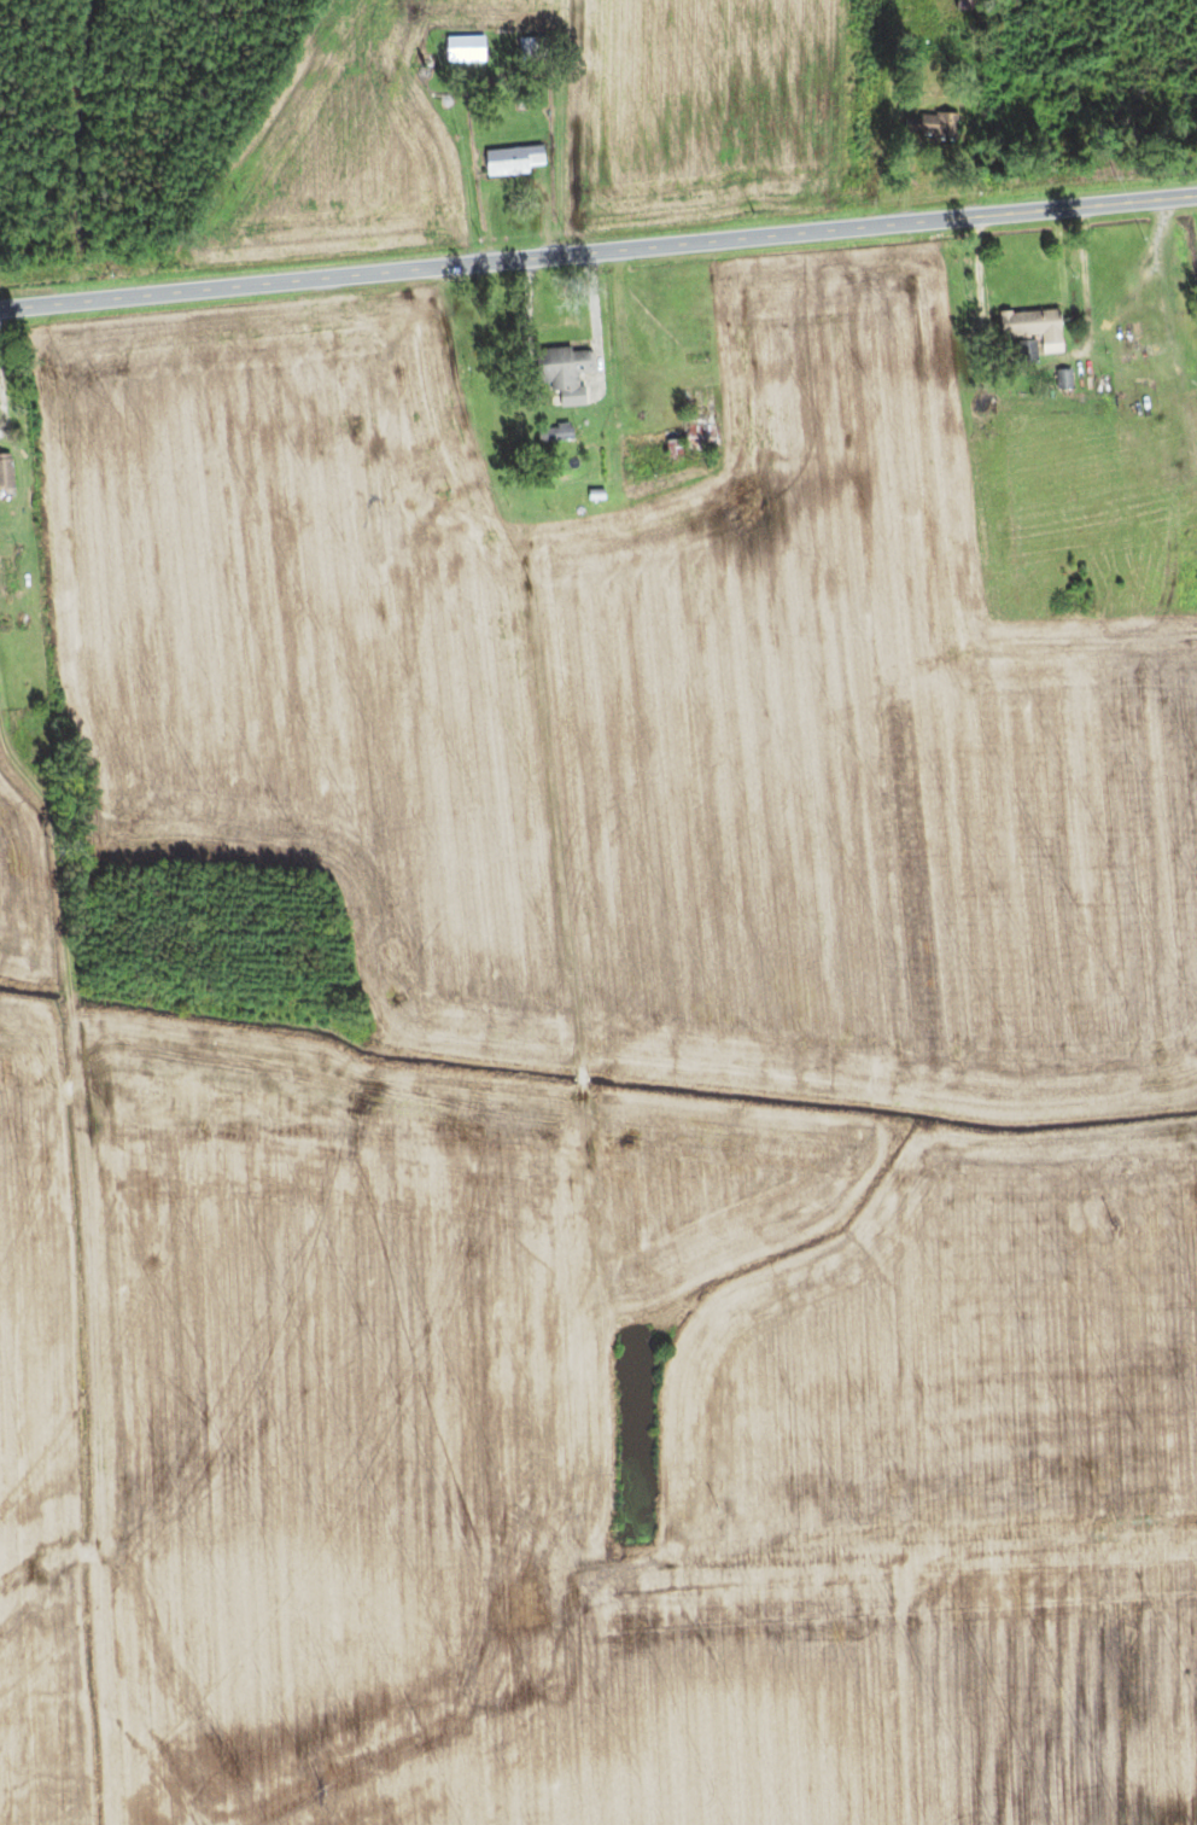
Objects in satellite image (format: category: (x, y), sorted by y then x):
building: (462, 49)
building: (953, 49)
building: (928, 126)
road: (557, 127)
building: (510, 159)
road: (597, 250)
building: (1028, 325)
building: (1023, 351)
building: (561, 373)
road: (2, 403)
building: (689, 431)
building: (550, 433)
building: (5, 472)

